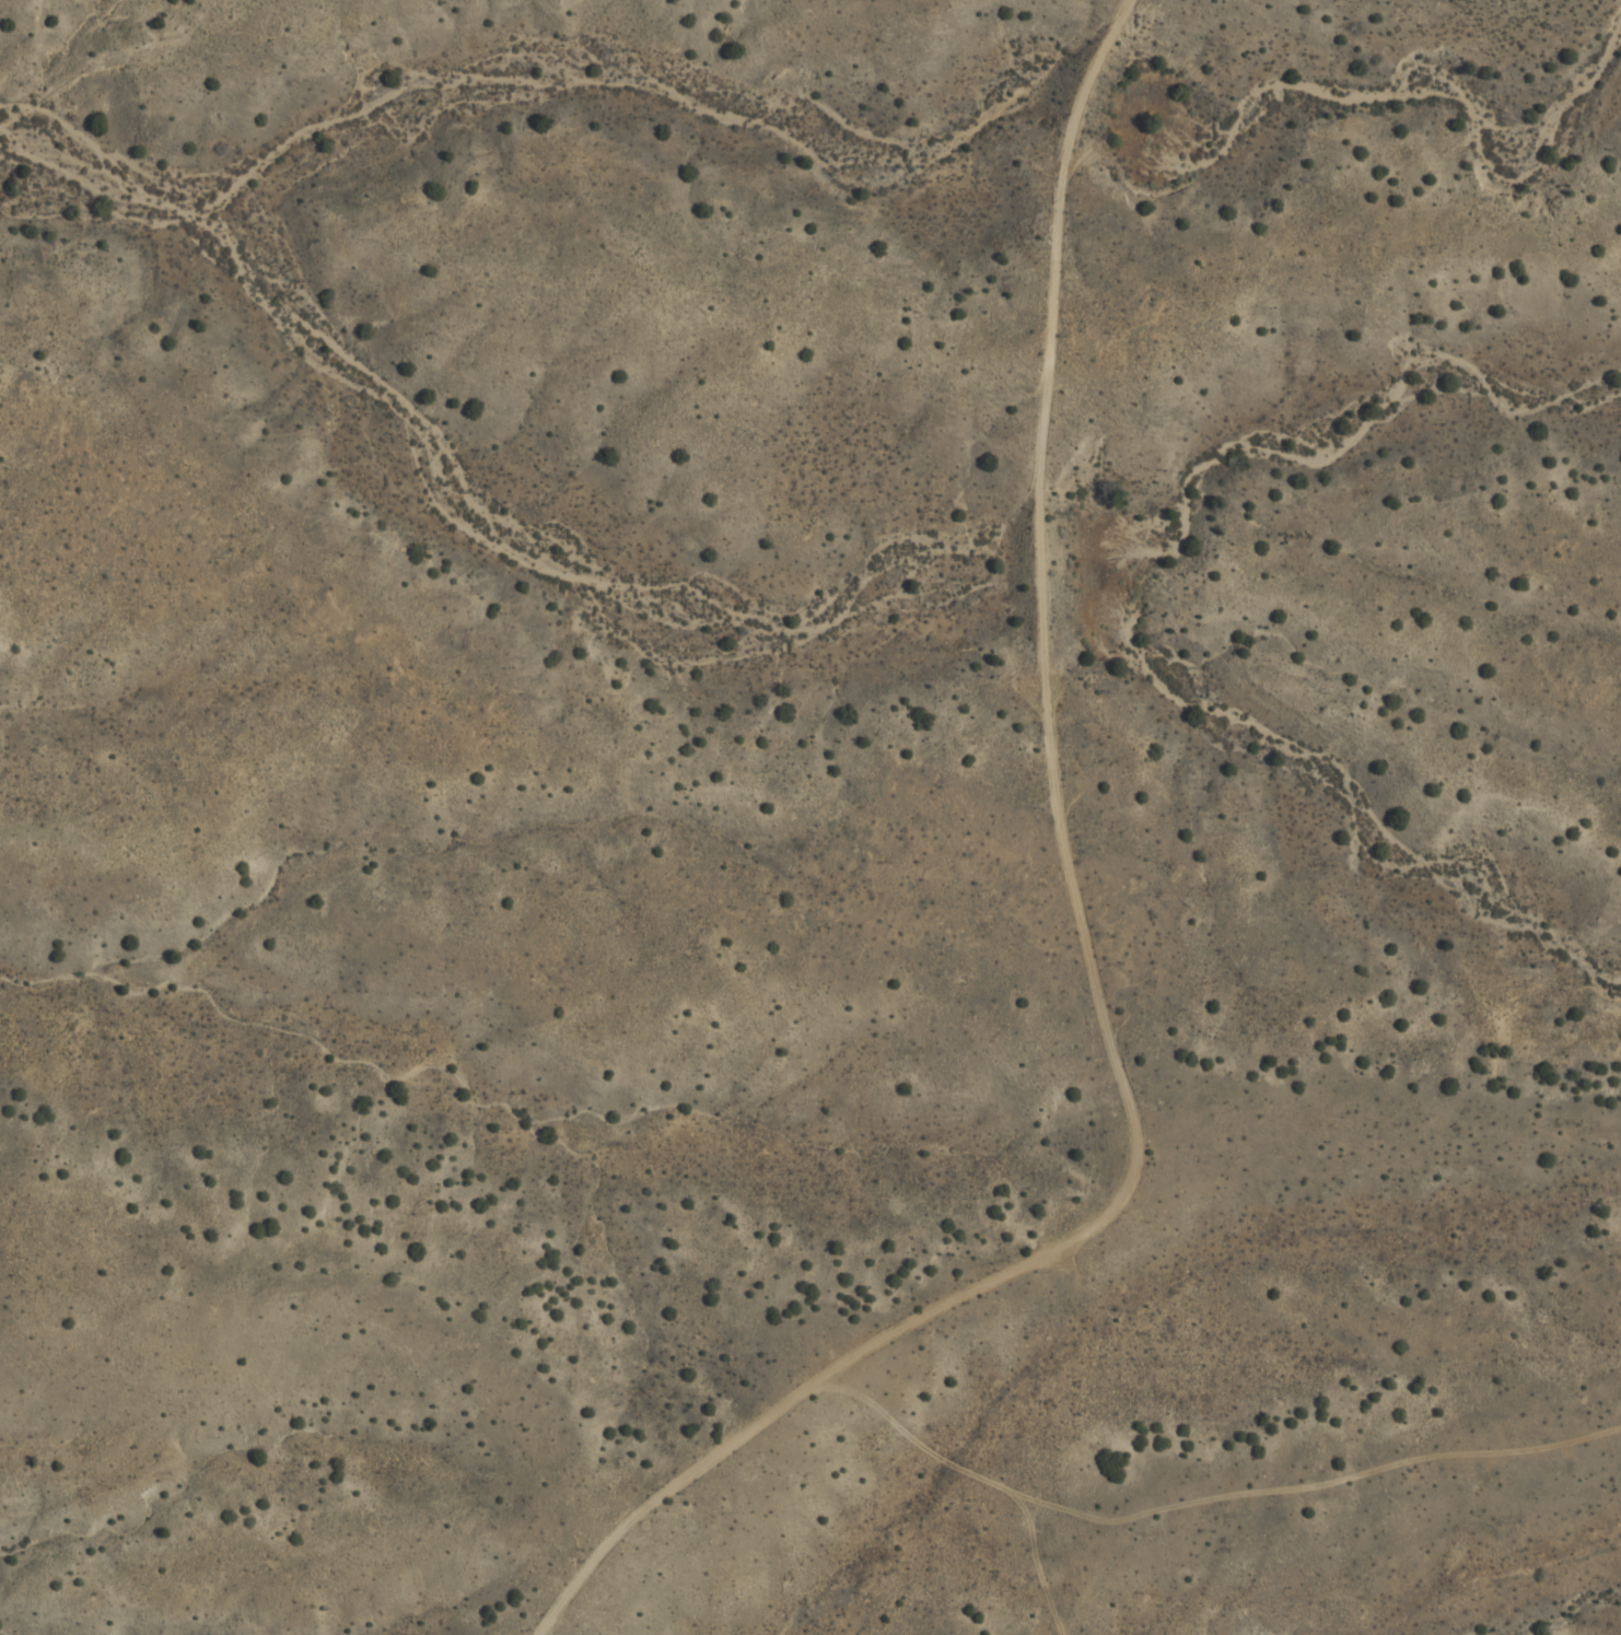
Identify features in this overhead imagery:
road: (1092, 959)

